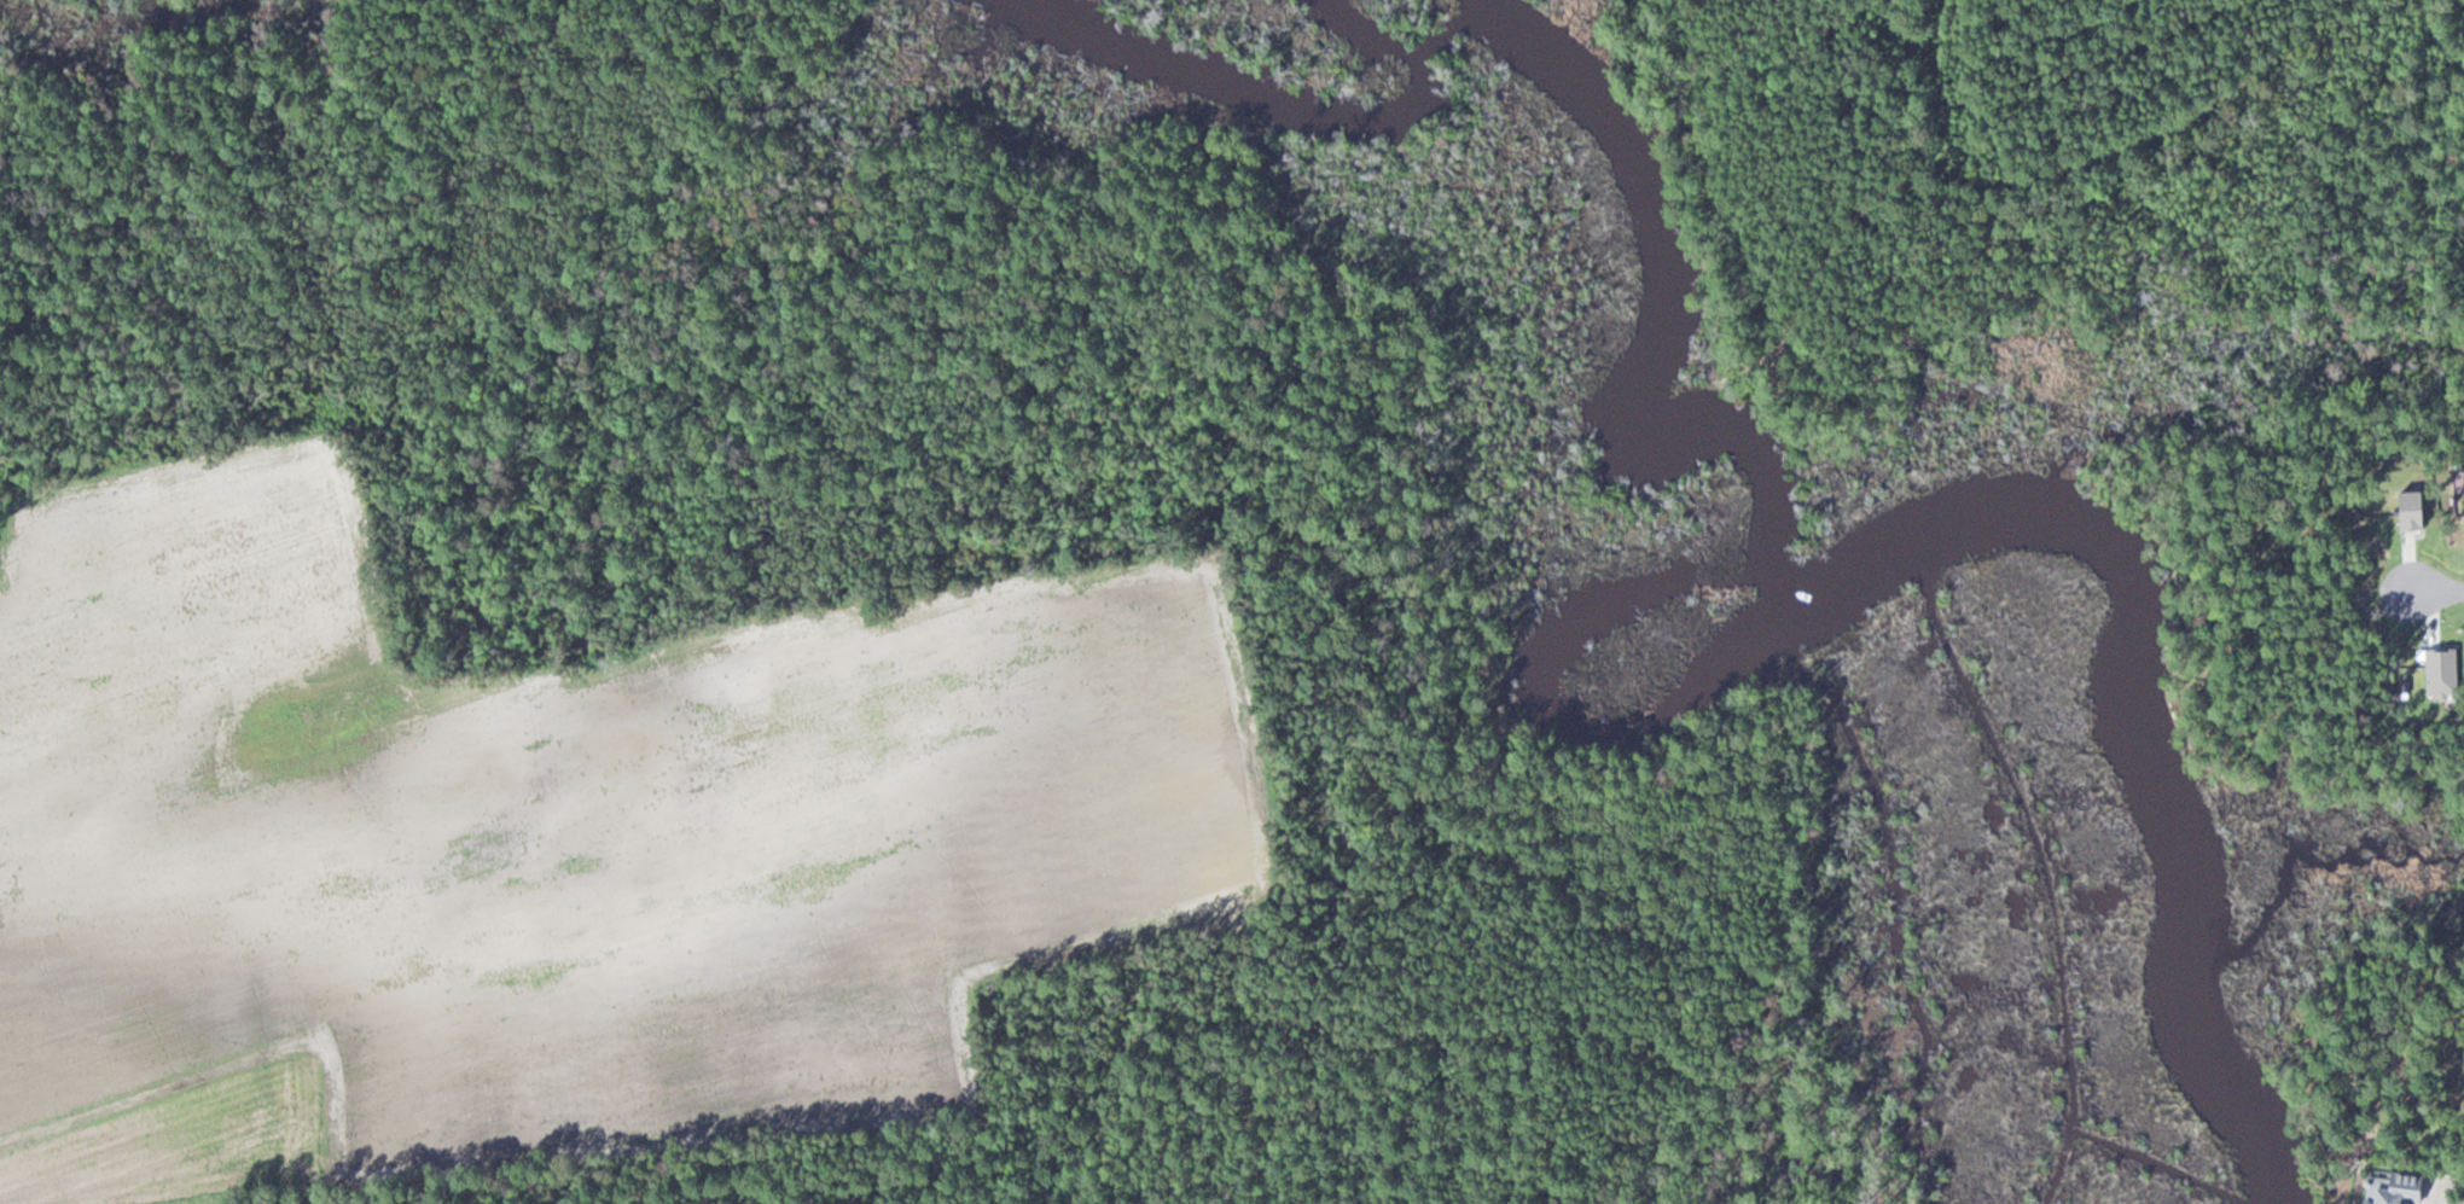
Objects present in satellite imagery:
building: (2387, 1187)

